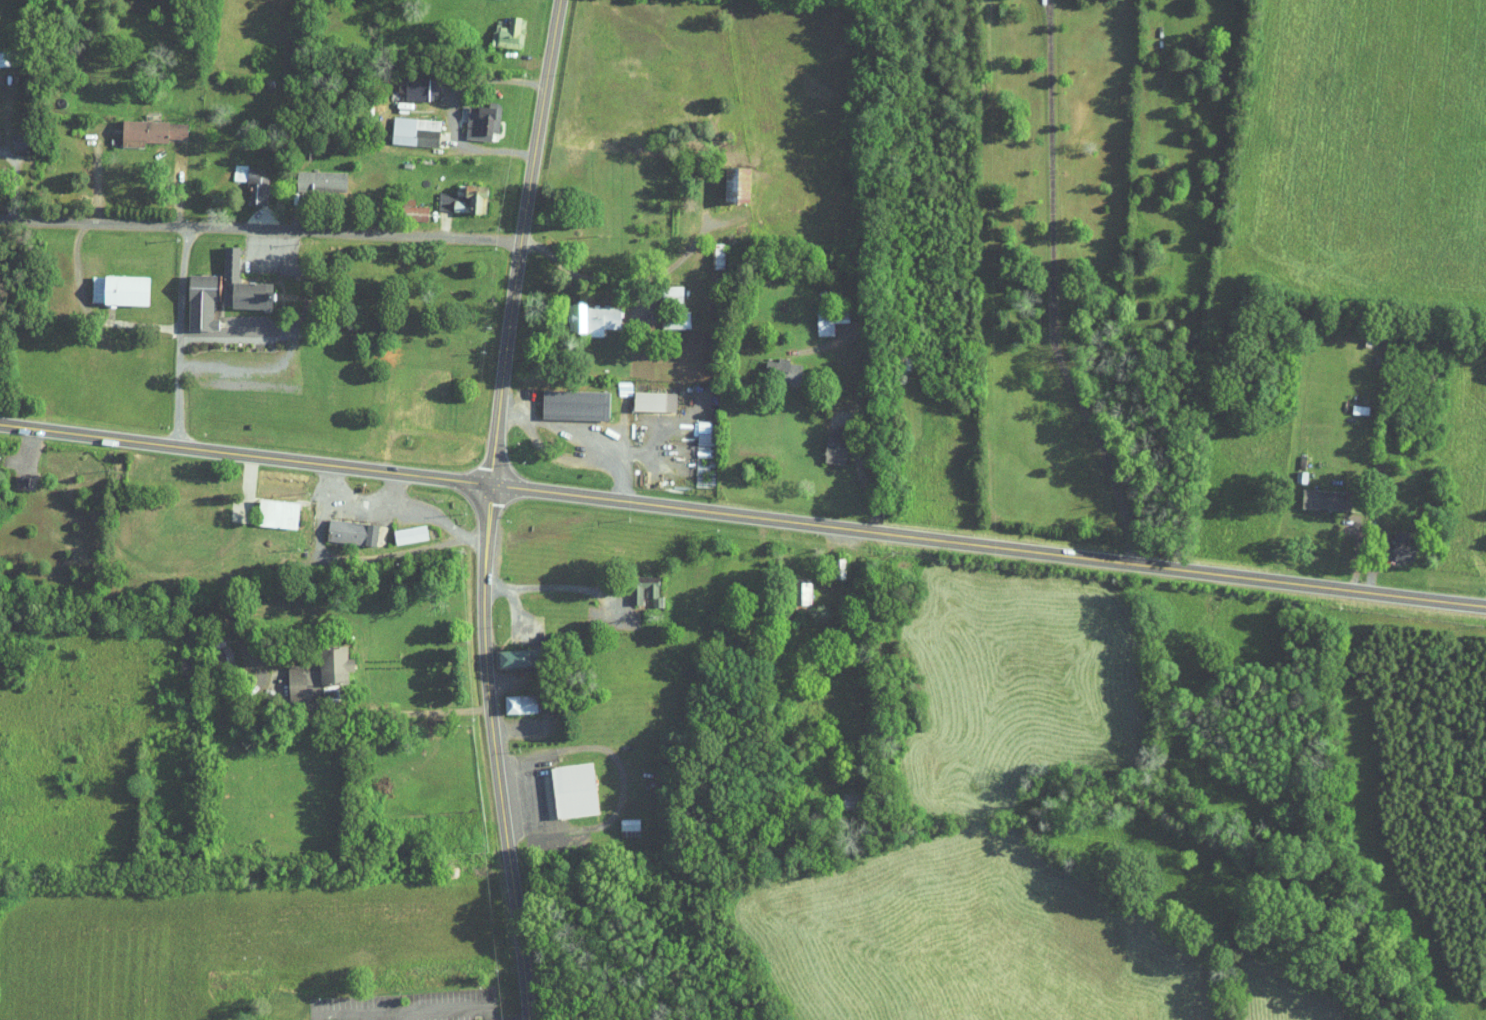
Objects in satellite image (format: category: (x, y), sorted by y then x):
building: (497, 26)
road: (532, 47)
road: (454, 112)
building: (140, 125)
building: (404, 125)
building: (8, 135)
road: (98, 174)
building: (310, 175)
building: (242, 176)
building: (727, 177)
road: (178, 184)
road: (12, 185)
building: (466, 191)
building: (442, 193)
road: (297, 214)
road: (260, 228)
road: (77, 245)
building: (707, 248)
building: (231, 278)
road: (637, 280)
road: (303, 282)
building: (108, 283)
building: (662, 287)
road: (1053, 289)
building: (191, 294)
building: (583, 312)
building: (818, 315)
road: (237, 329)
road: (184, 336)
building: (772, 364)
road: (251, 367)
building: (613, 384)
building: (643, 395)
building: (564, 398)
road: (585, 433)
building: (824, 440)
road: (861, 478)
building: (1318, 493)
road: (346, 496)
building: (267, 507)
road: (488, 508)
road: (427, 513)
road: (742, 515)
building: (341, 526)
building: (399, 528)
building: (1393, 540)
building: (828, 562)
building: (635, 584)
road: (557, 586)
building: (791, 588)
building: (213, 651)
building: (504, 651)
road: (836, 658)
road: (502, 667)
building: (307, 669)
building: (509, 698)
road: (422, 707)
building: (563, 784)
road: (537, 792)
building: (618, 818)
road: (397, 1005)
road: (481, 1019)
road: (486, 1019)

